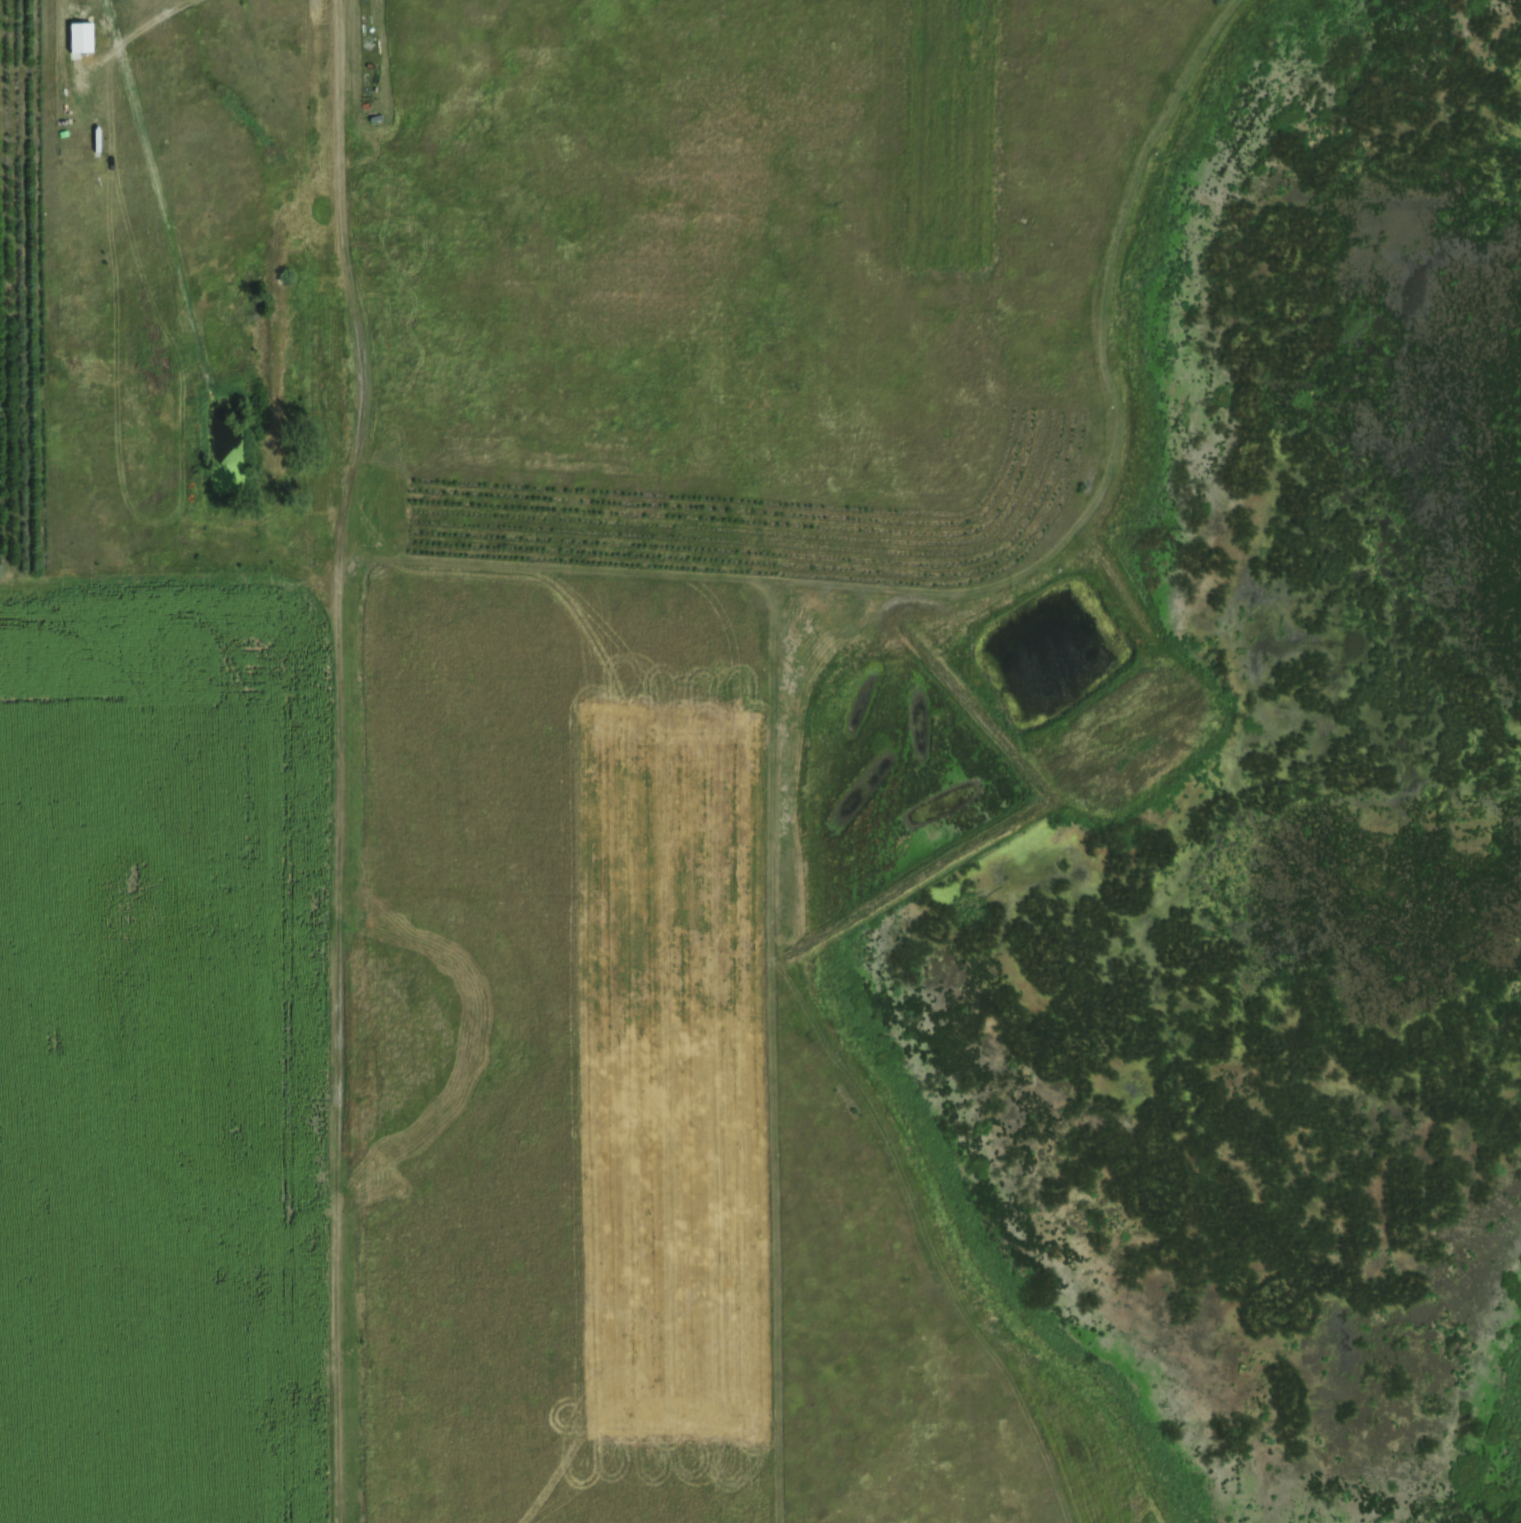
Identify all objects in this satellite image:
building: (81, 37)

